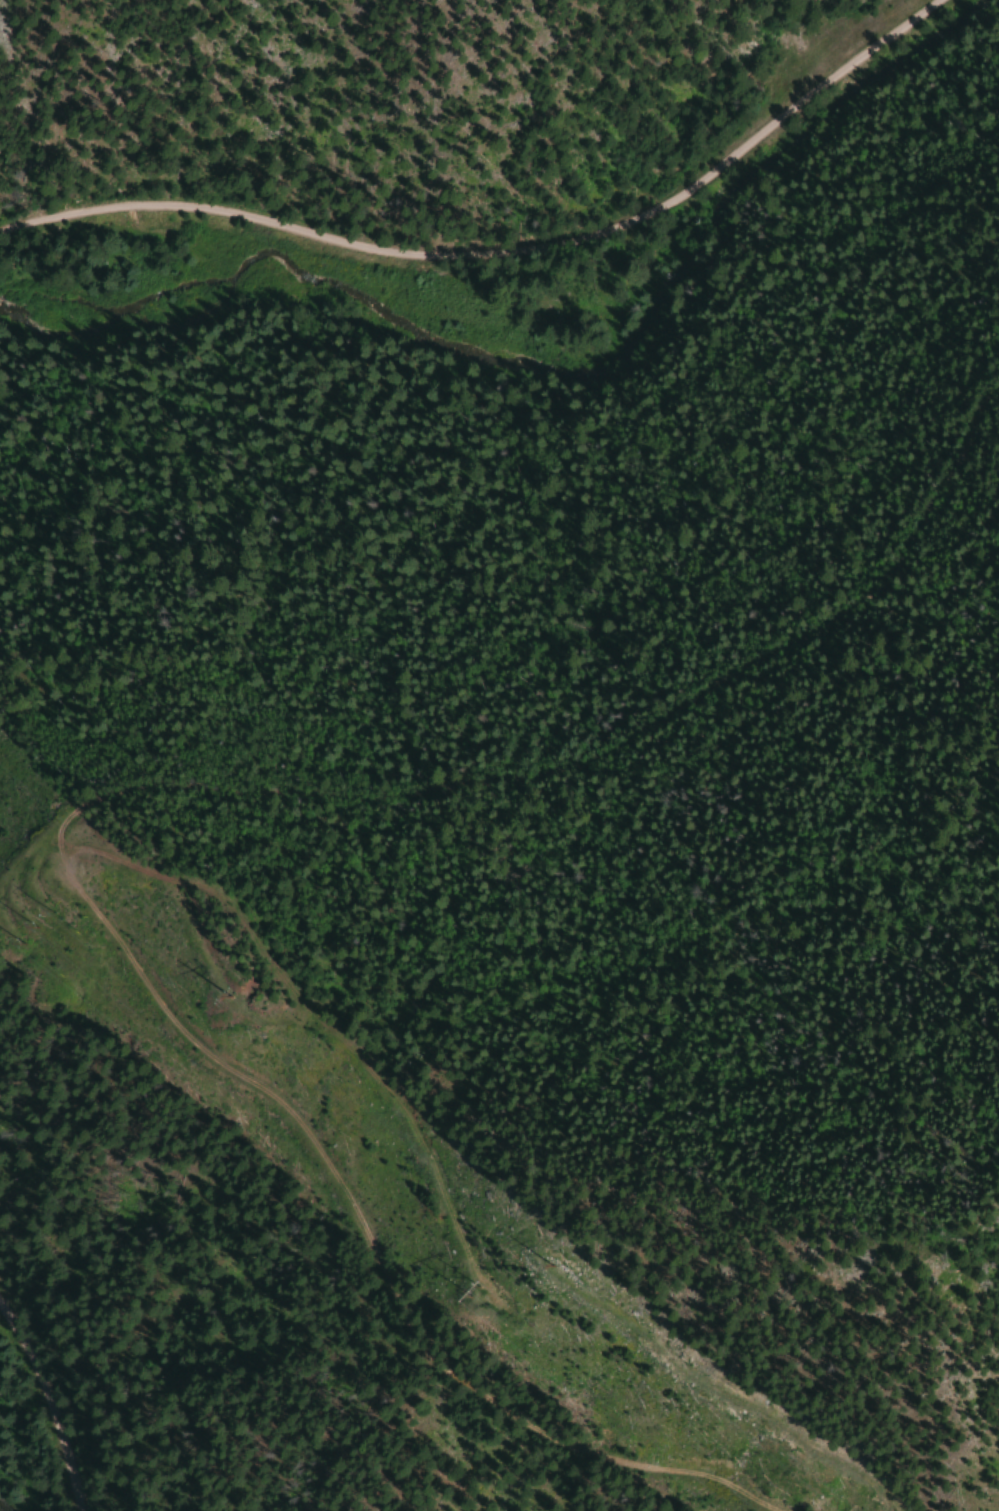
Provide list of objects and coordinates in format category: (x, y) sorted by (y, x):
road: (499, 252)
power tower: (30, 926)
power tower: (473, 1289)
road: (50, 1401)

